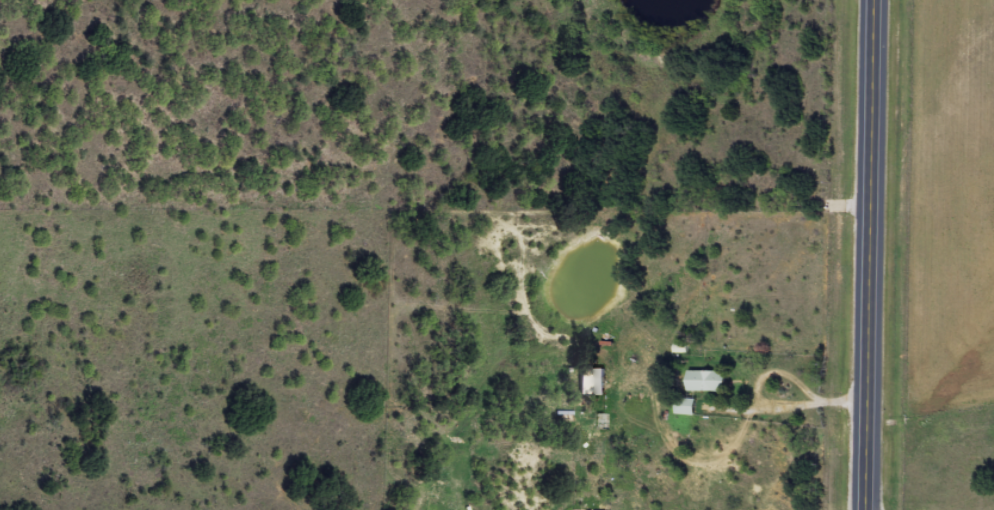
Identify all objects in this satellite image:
road: (869, 255)
building: (593, 380)
building: (709, 380)
building: (686, 406)

